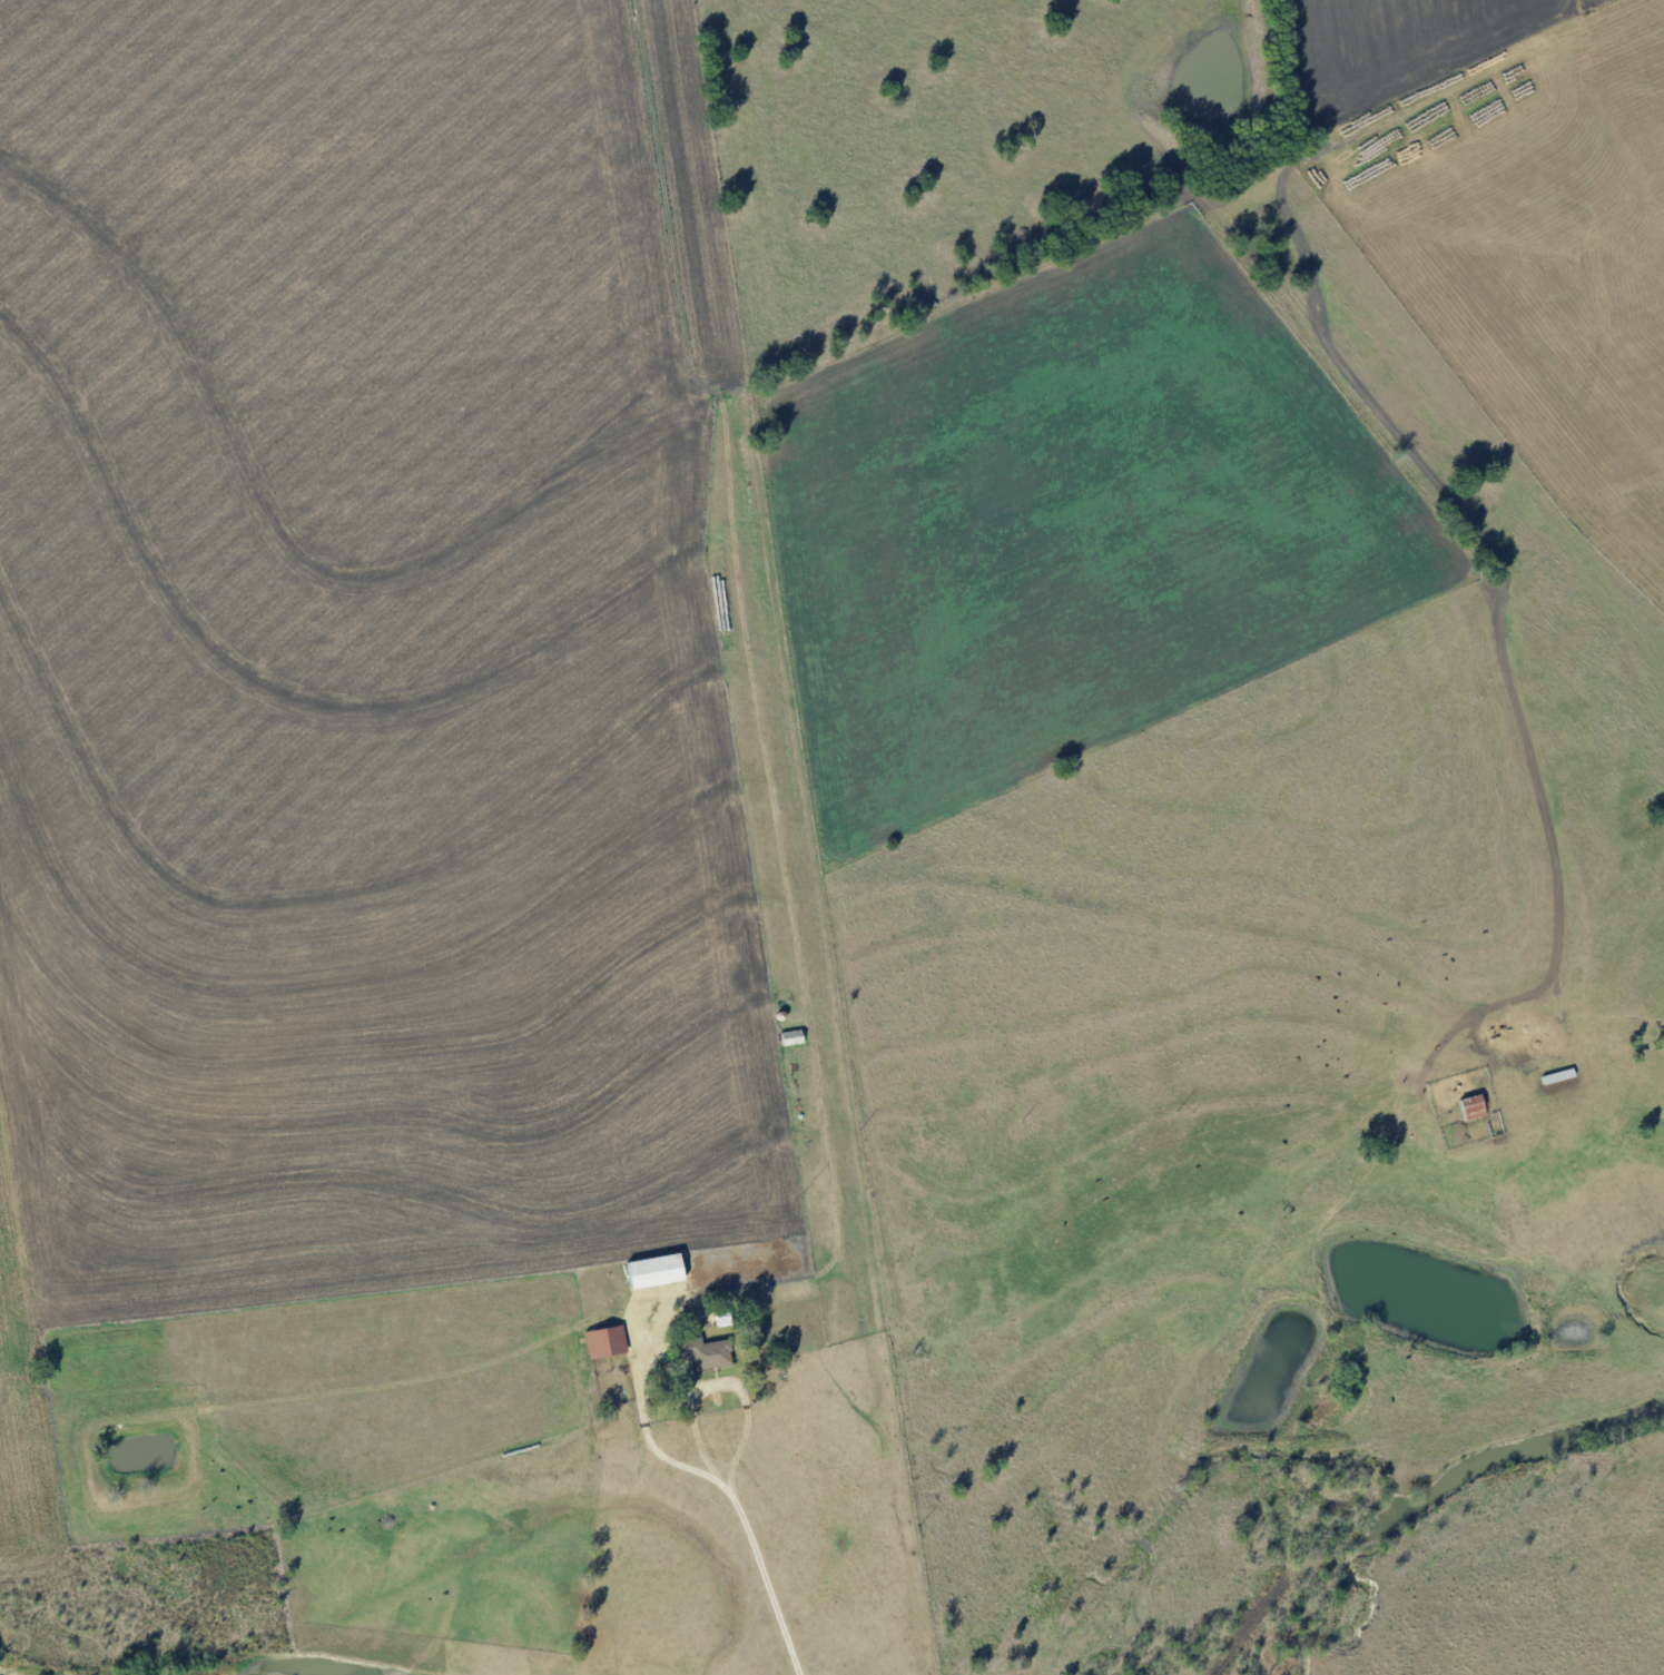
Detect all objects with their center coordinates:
building: (648, 1271)
building: (719, 1318)
building: (602, 1341)
building: (701, 1352)
road: (726, 1490)

